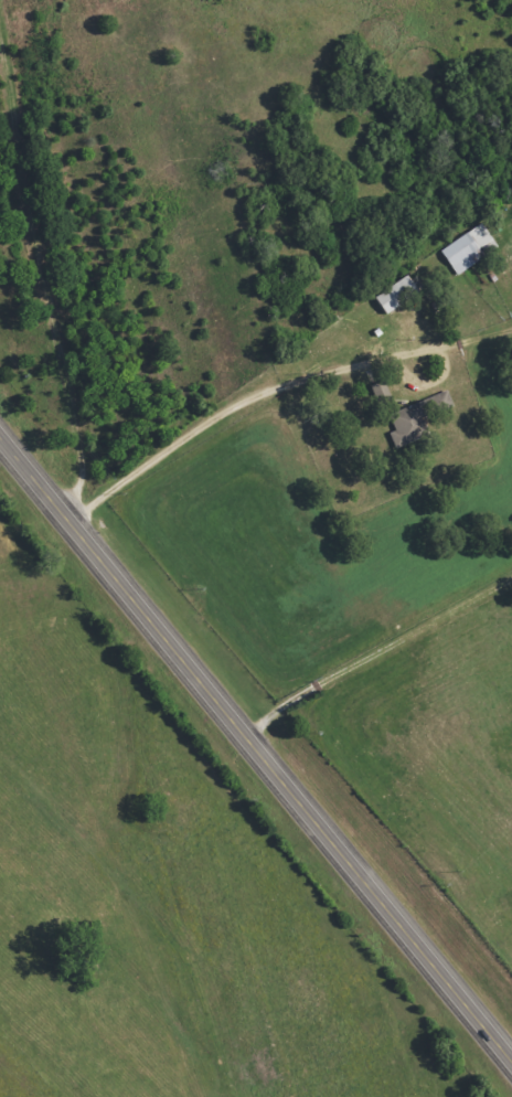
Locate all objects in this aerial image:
building: (471, 249)
building: (398, 295)
building: (418, 419)
road: (256, 754)

